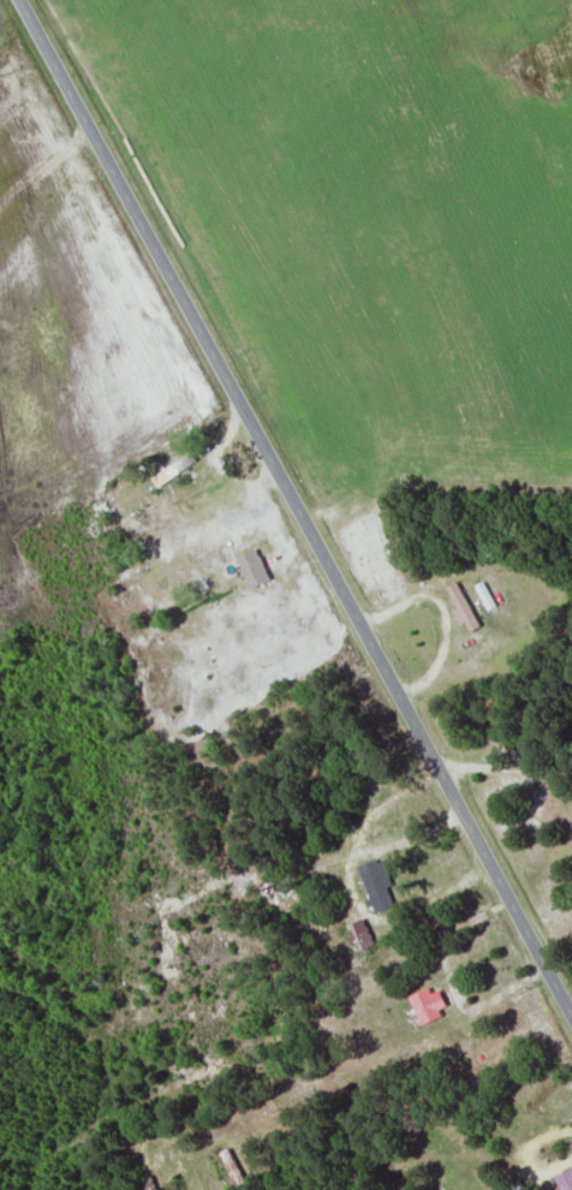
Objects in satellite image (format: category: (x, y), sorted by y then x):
road: (294, 510)
building: (254, 569)
building: (464, 608)
building: (377, 887)
building: (427, 1006)
building: (565, 1180)

